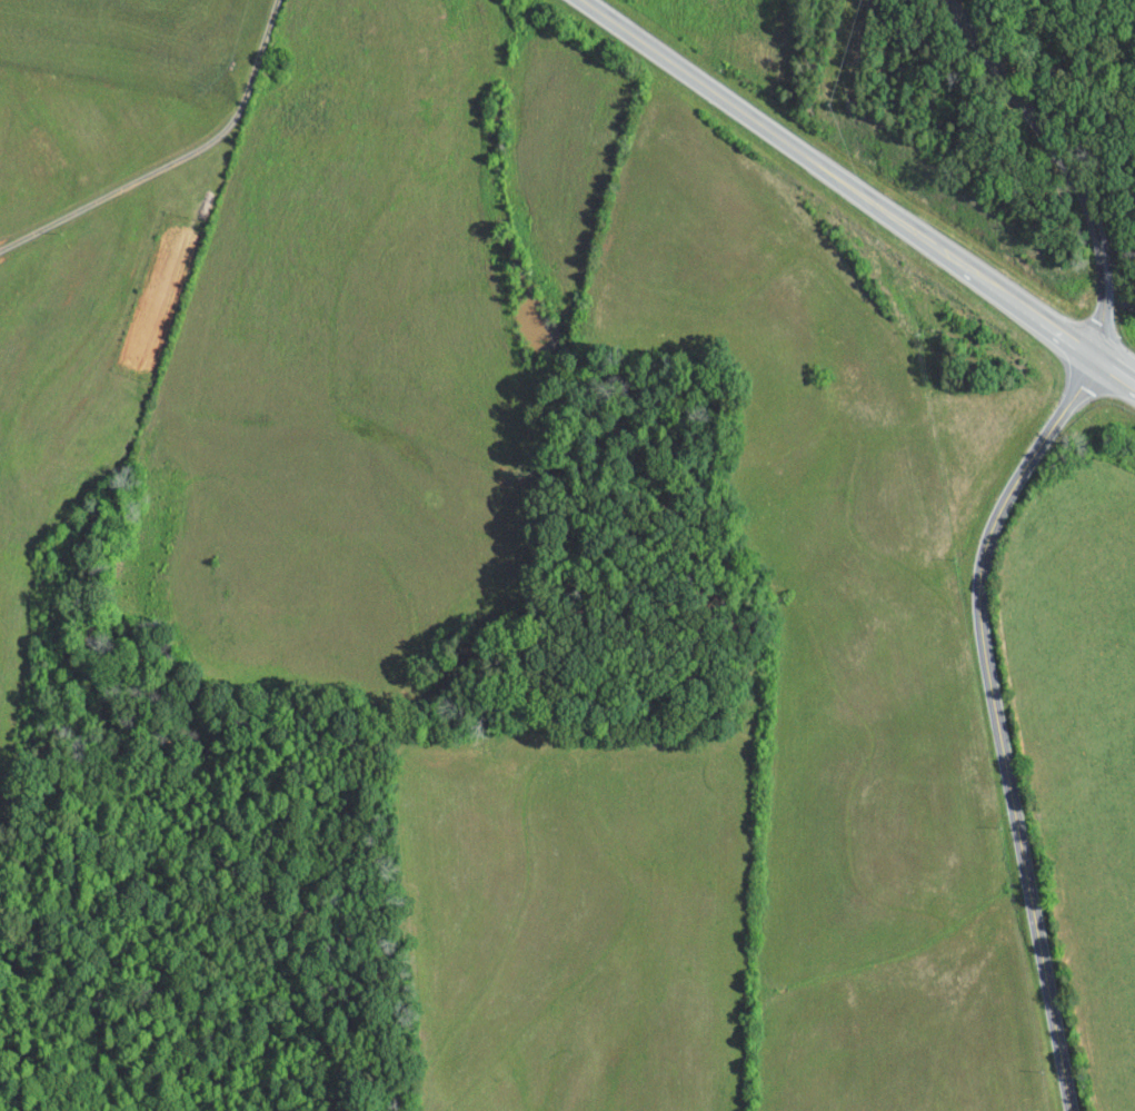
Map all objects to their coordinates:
road: (1062, 167)
road: (858, 194)
road: (999, 721)

